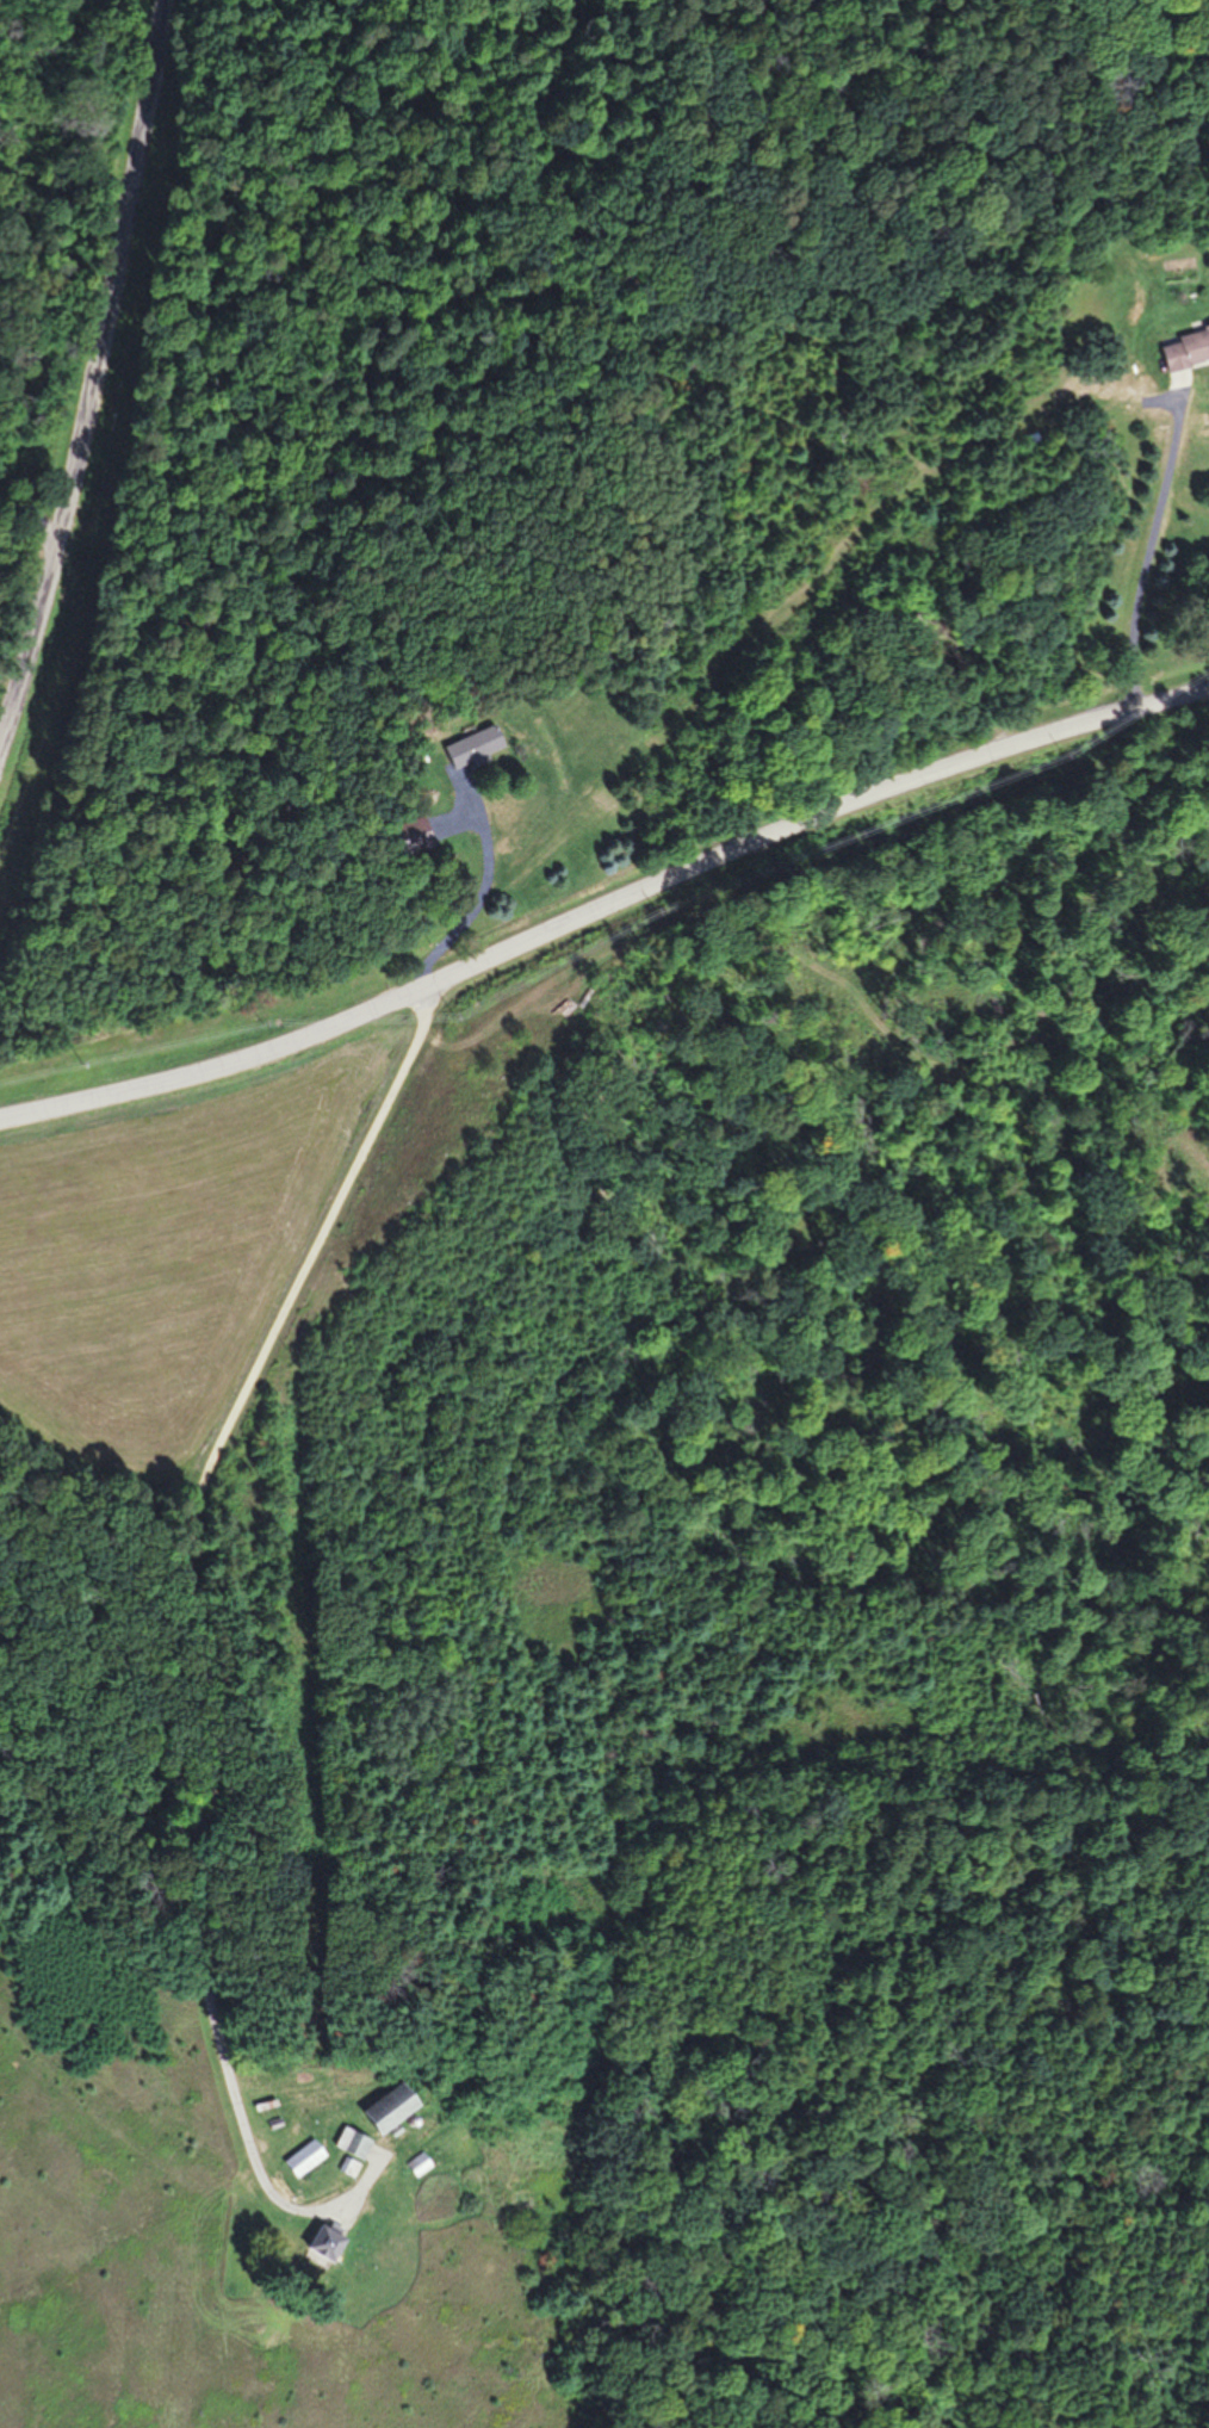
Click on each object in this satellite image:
building: (1184, 348)
road: (94, 377)
building: (1029, 439)
building: (475, 743)
road: (604, 909)
crop: (187, 1257)
building: (383, 2107)
building: (349, 2143)
building: (300, 2157)
building: (416, 2164)
building: (347, 2167)
building: (321, 2243)

